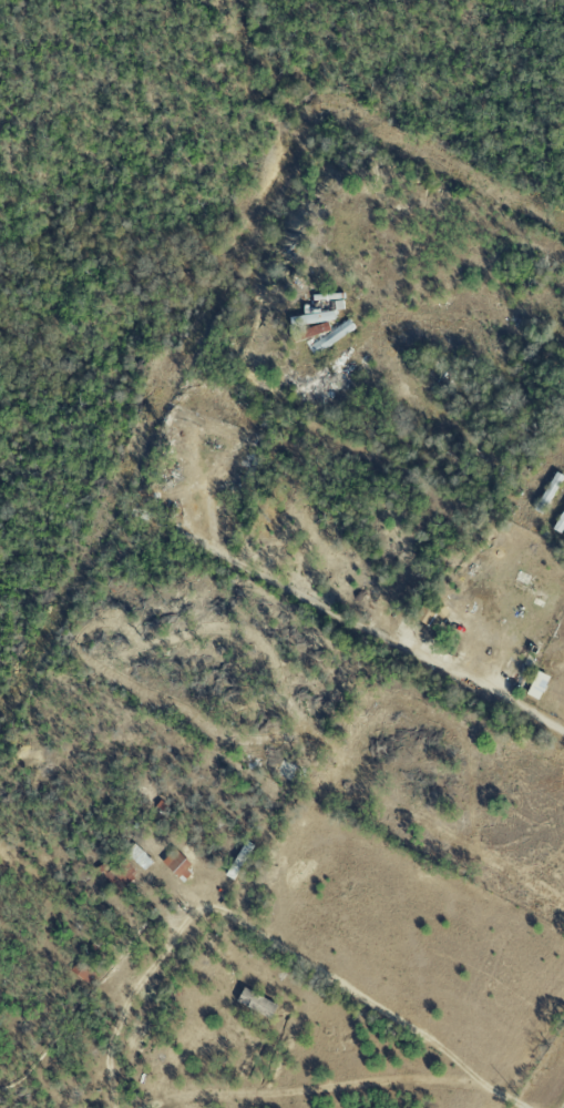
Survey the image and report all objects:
building: (311, 323)
building: (550, 489)
building: (560, 523)
building: (428, 611)
road: (516, 705)
building: (135, 853)
building: (180, 865)
building: (121, 875)
building: (83, 972)
road: (370, 996)
building: (258, 1003)

